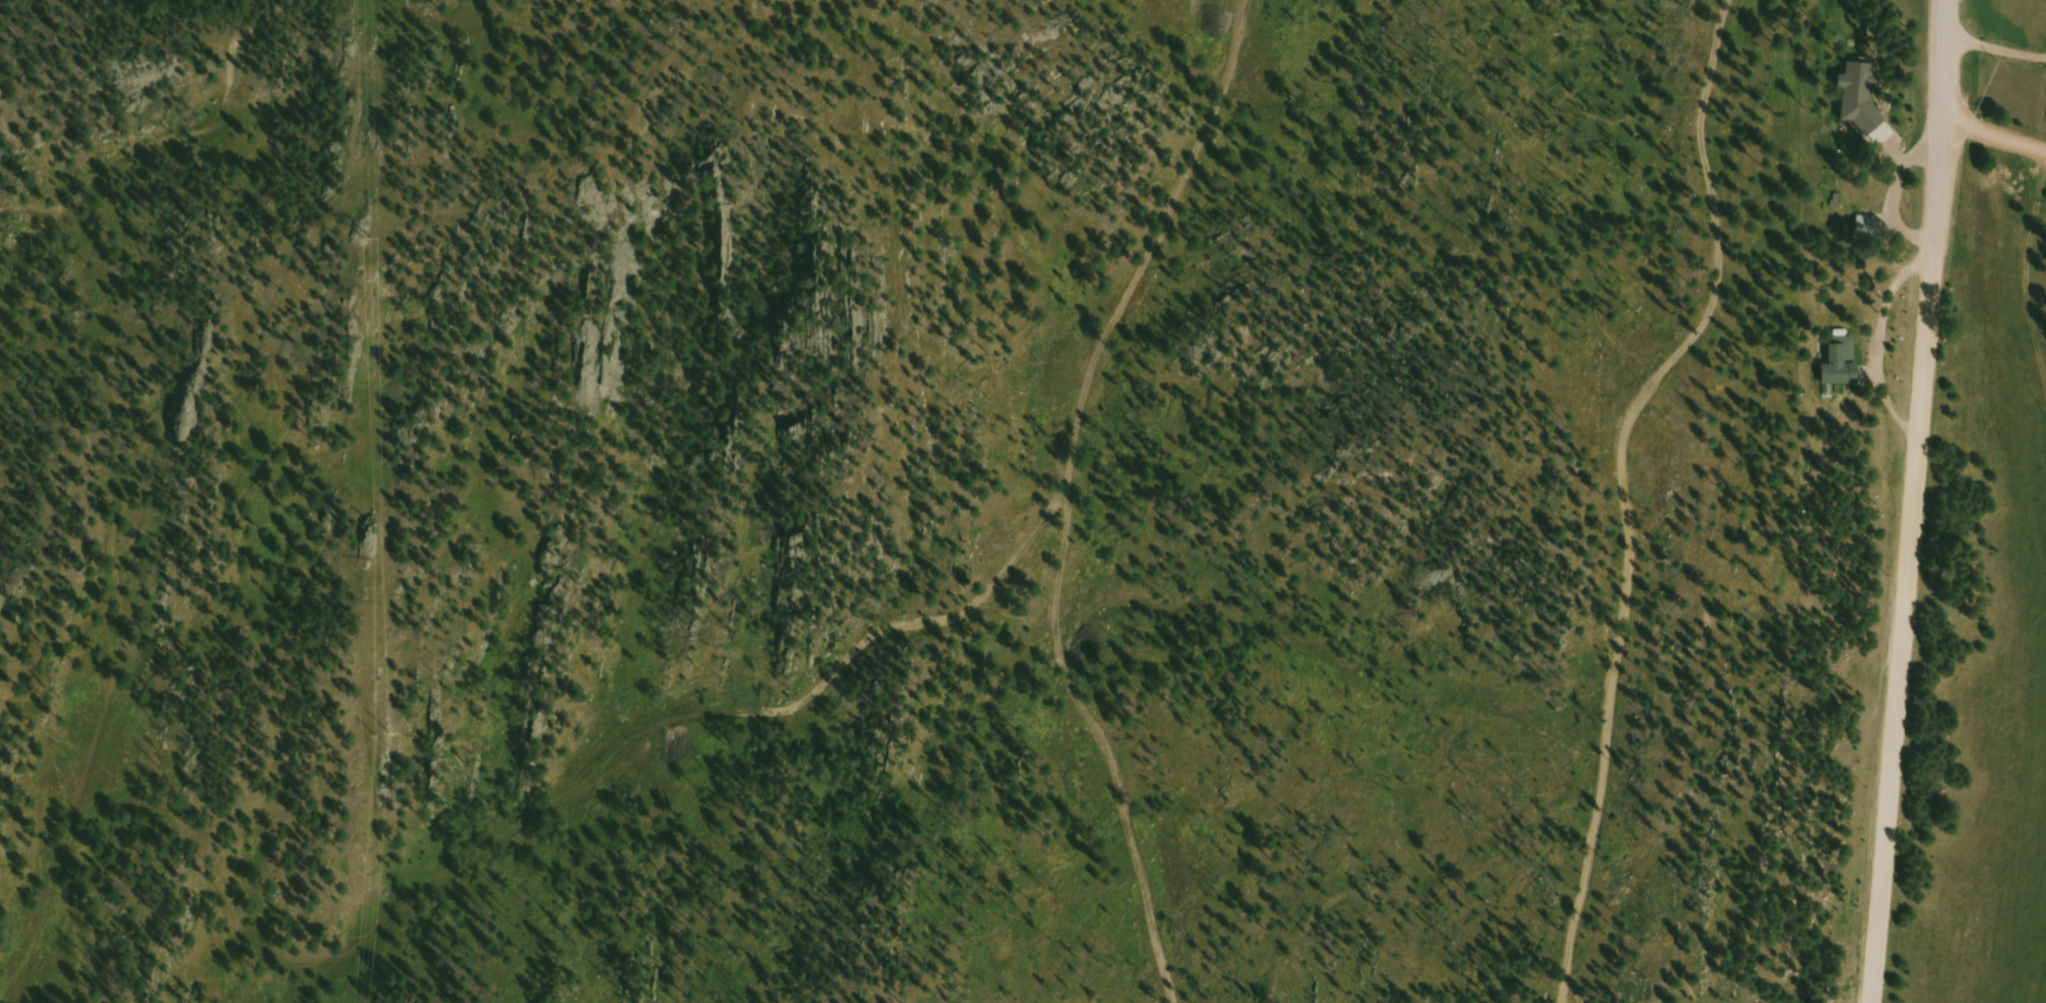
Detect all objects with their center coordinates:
road: (1947, 81)
building: (1858, 131)
road: (1996, 131)
building: (1869, 232)
building: (1846, 366)
road: (1903, 583)

